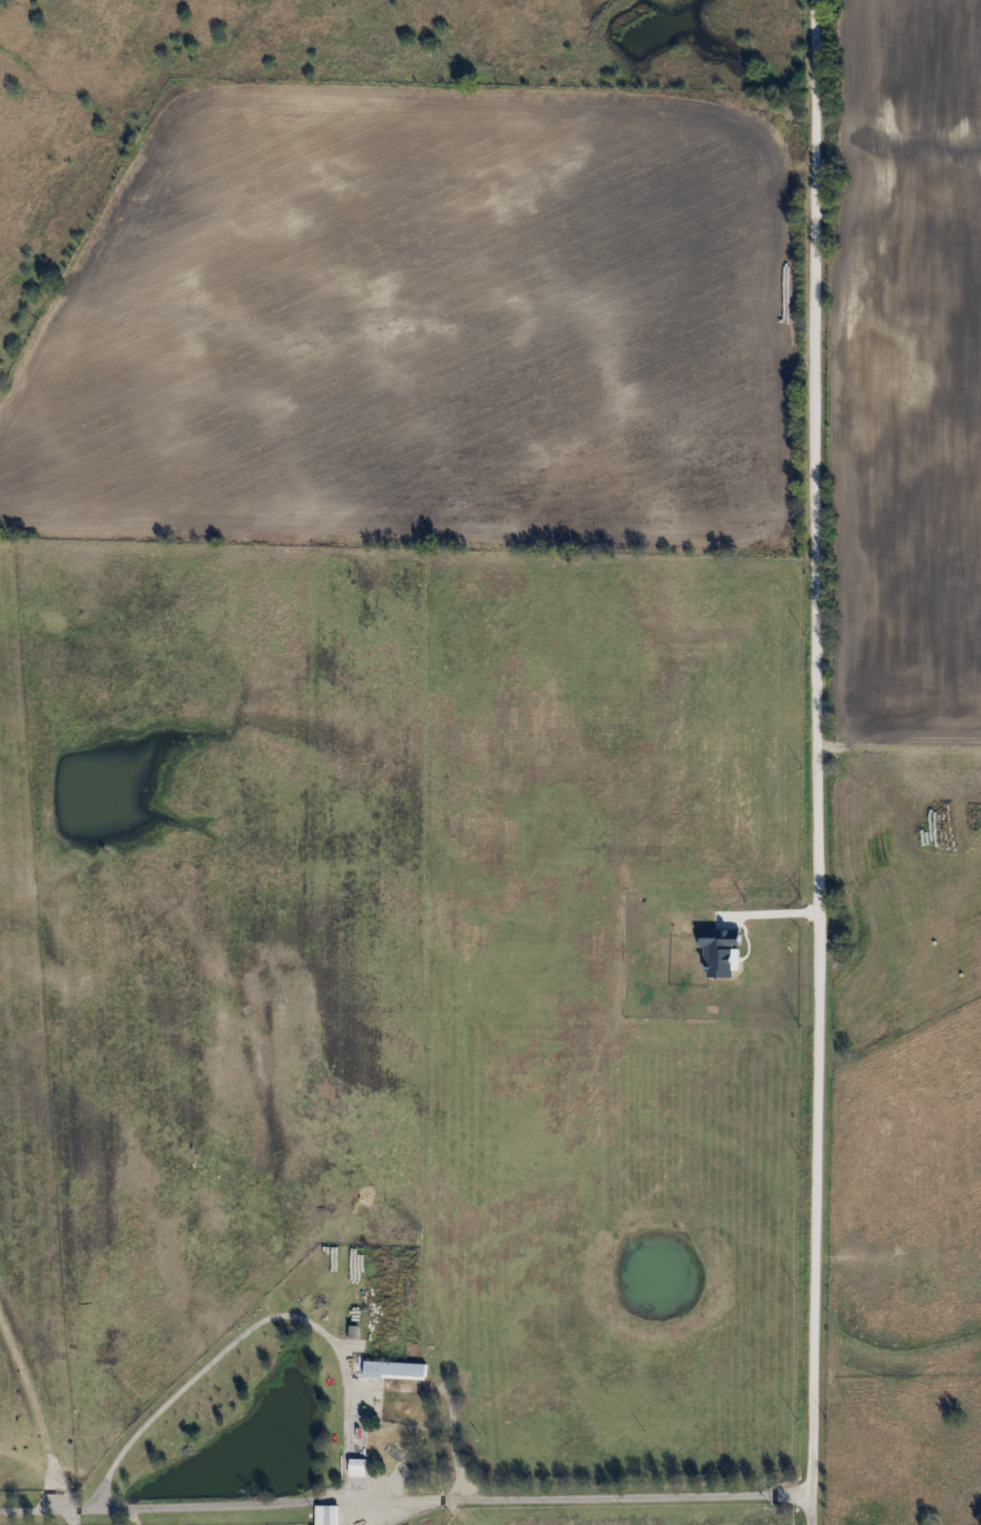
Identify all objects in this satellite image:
road: (820, 762)
road: (779, 915)
road: (302, 1314)
building: (396, 1369)
building: (406, 1458)
building: (359, 1466)
road: (405, 1501)
building: (327, 1514)

